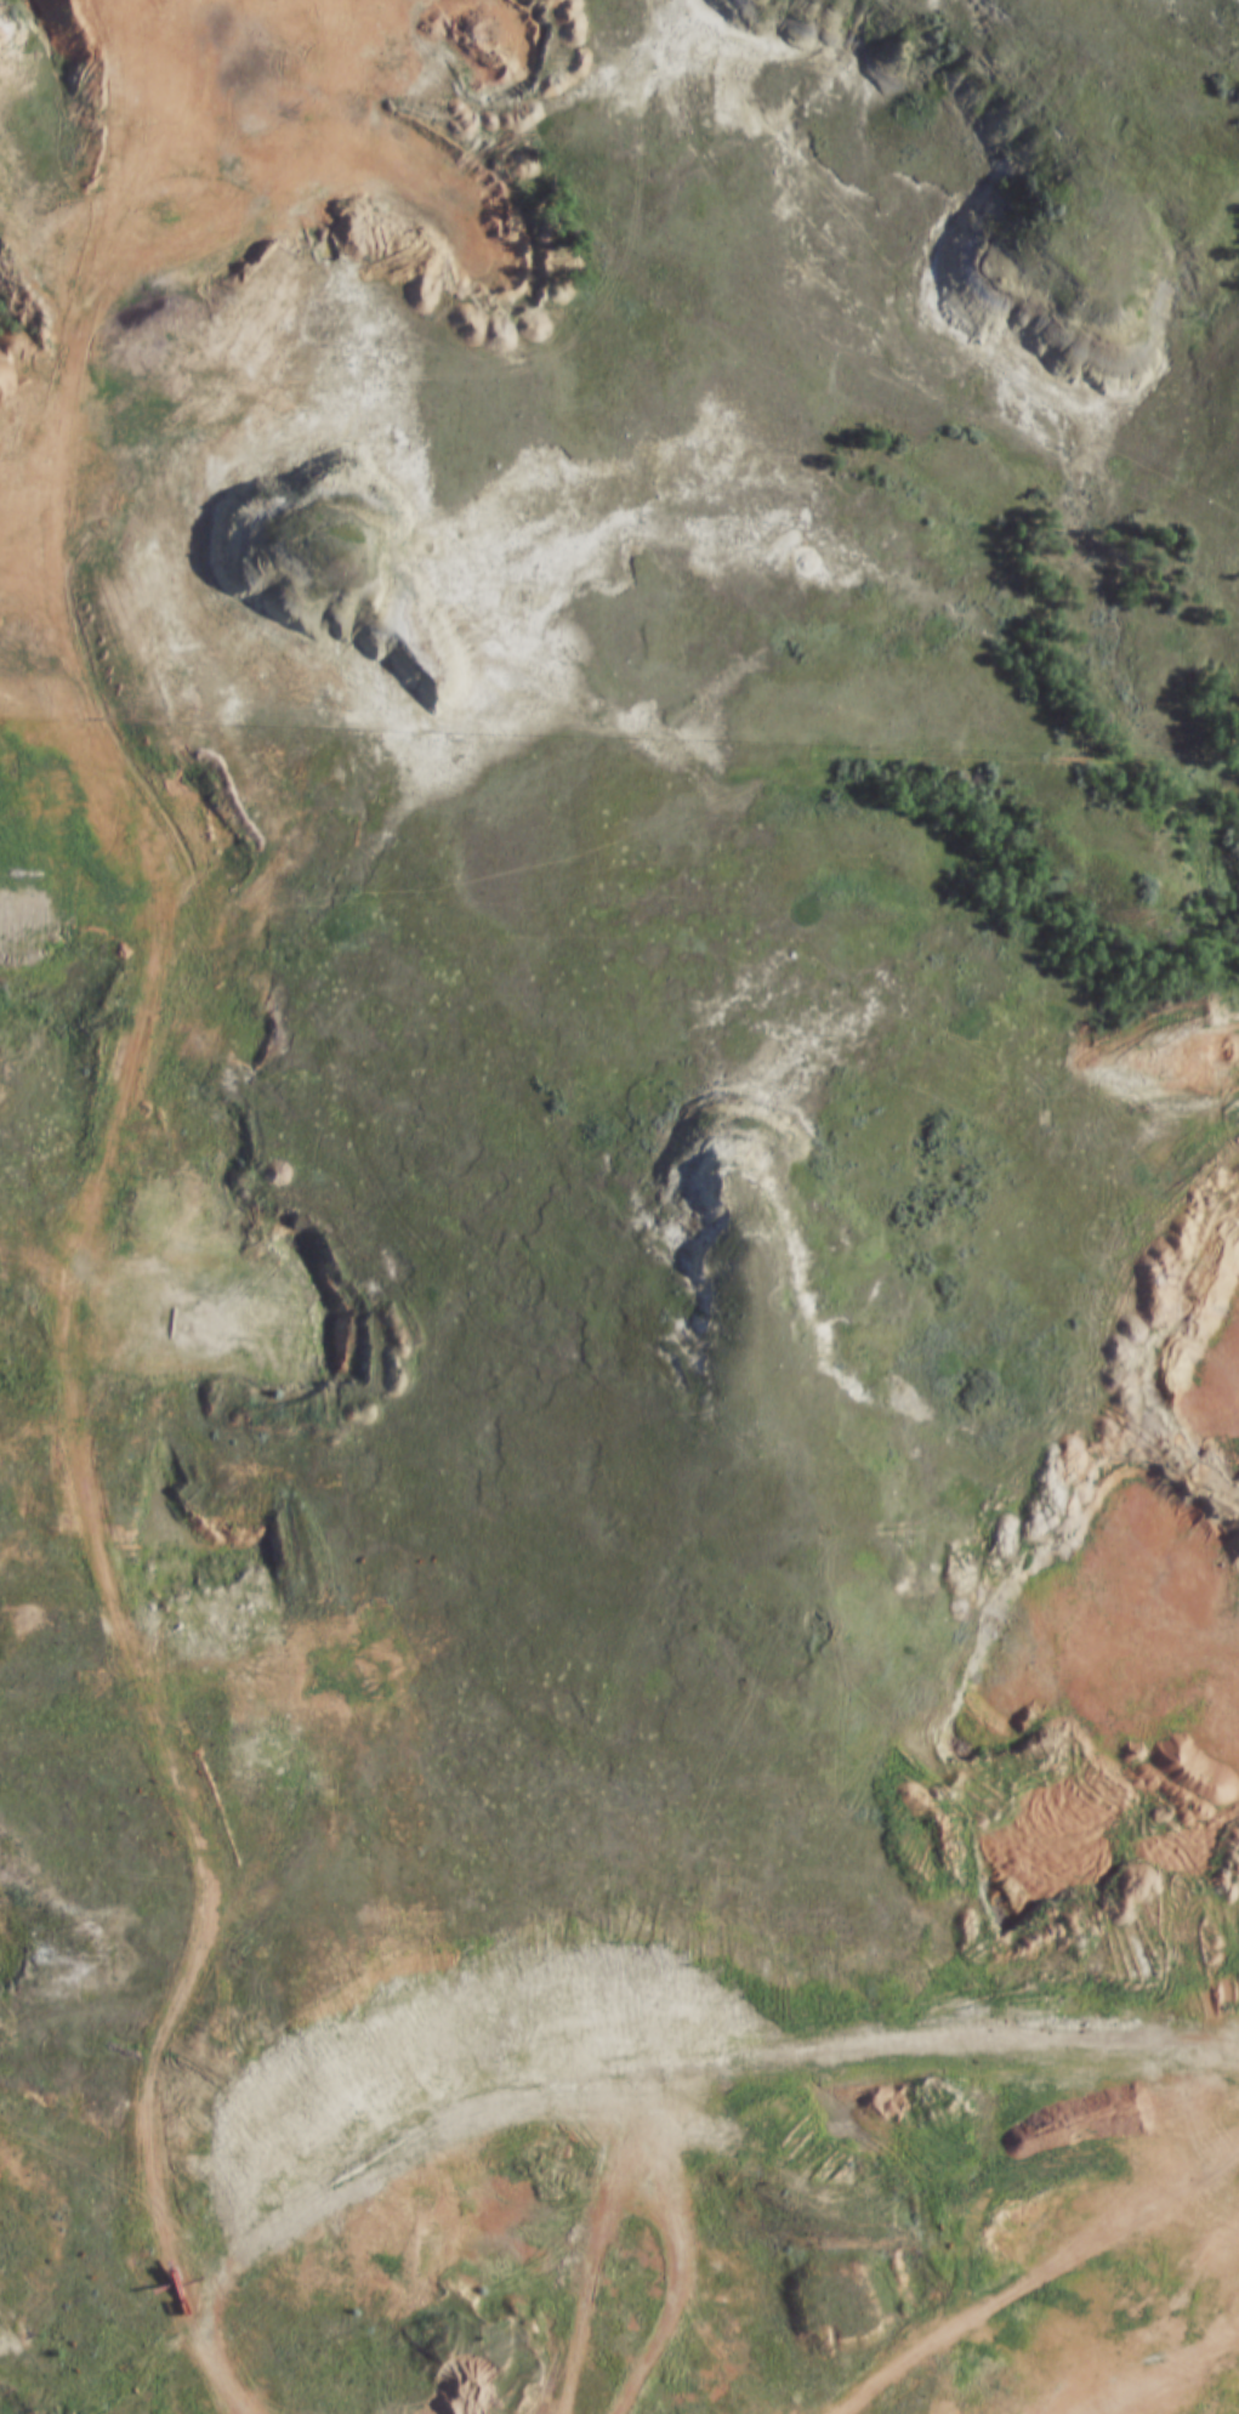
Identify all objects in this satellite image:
quarry: (158, 1511)
road: (0, 1600)

